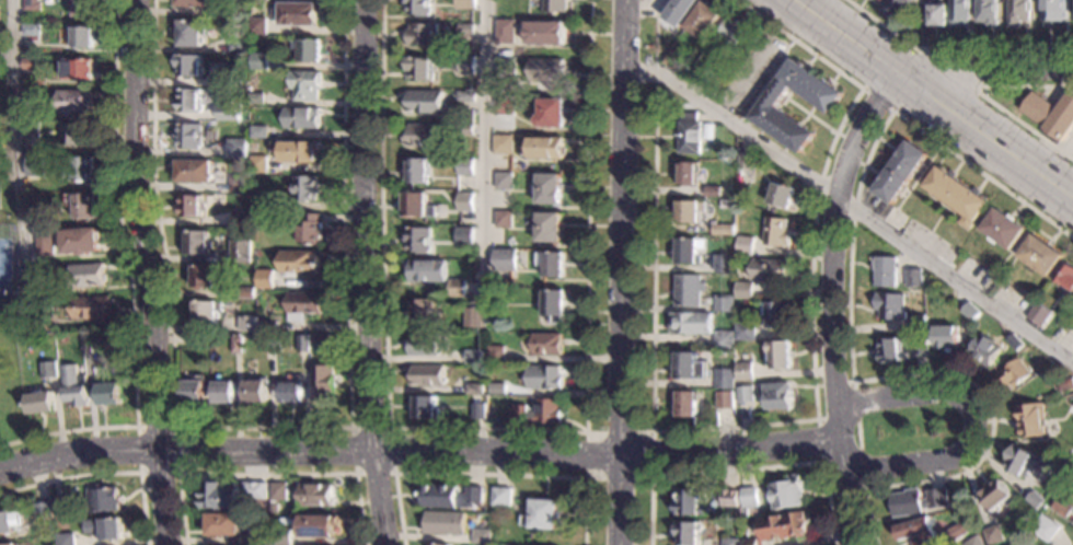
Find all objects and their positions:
building: (465, 0)
building: (880, 0)
building: (192, 3)
building: (31, 5)
building: (554, 5)
building: (82, 8)
building: (418, 8)
building: (896, 8)
building: (238, 9)
building: (679, 11)
building: (988, 12)
building: (1018, 12)
building: (1053, 12)
building: (960, 13)
building: (300, 14)
building: (938, 15)
building: (703, 20)
building: (258, 26)
building: (32, 30)
building: (466, 30)
building: (505, 32)
building: (189, 33)
building: (547, 33)
building: (731, 34)
building: (422, 35)
building: (80, 36)
building: (236, 46)
road: (951, 47)
building: (309, 50)
building: (673, 60)
building: (261, 61)
building: (30, 65)
building: (187, 66)
building: (464, 66)
road: (979, 67)
building: (78, 69)
building: (420, 70)
building: (506, 70)
building: (546, 71)
road: (743, 73)
building: (702, 74)
building: (233, 78)
road: (768, 81)
building: (307, 85)
building: (31, 95)
road: (934, 95)
road: (982, 95)
building: (465, 96)
building: (256, 100)
building: (187, 101)
building: (424, 101)
building: (74, 102)
road: (916, 104)
building: (769, 105)
building: (505, 107)
building: (228, 114)
building: (552, 114)
road: (808, 114)
road: (810, 115)
building: (1051, 116)
building: (301, 118)
building: (465, 129)
building: (30, 130)
building: (259, 132)
building: (689, 134)
building: (74, 135)
building: (188, 136)
building: (422, 136)
building: (501, 144)
building: (235, 148)
building: (544, 148)
road: (483, 150)
building: (297, 151)
road: (13, 154)
building: (745, 161)
building: (33, 165)
building: (258, 165)
building: (465, 167)
building: (78, 170)
building: (418, 171)
building: (194, 172)
building: (900, 172)
building: (688, 175)
building: (504, 182)
building: (236, 183)
building: (305, 188)
building: (550, 189)
building: (712, 190)
building: (781, 196)
building: (958, 196)
building: (266, 201)
building: (464, 202)
building: (81, 204)
building: (187, 206)
building: (418, 206)
road: (851, 206)
building: (689, 211)
building: (238, 218)
building: (253, 218)
building: (39, 220)
building: (503, 220)
building: (547, 228)
building: (310, 229)
building: (1004, 229)
building: (723, 230)
building: (464, 232)
building: (775, 232)
building: (418, 240)
building: (78, 242)
building: (511, 242)
building: (44, 243)
building: (197, 243)
building: (745, 246)
building: (687, 251)
building: (240, 252)
building: (1041, 256)
road: (829, 257)
building: (504, 260)
building: (298, 263)
building: (551, 265)
building: (724, 265)
park: (4, 267)
building: (770, 269)
building: (427, 270)
building: (885, 271)
building: (43, 272)
road: (146, 272)
road: (369, 272)
road: (622, 272)
building: (86, 274)
building: (1065, 275)
building: (203, 277)
building: (914, 278)
road: (130, 281)
building: (265, 282)
building: (455, 288)
building: (688, 290)
building: (743, 291)
building: (245, 293)
park: (9, 302)
building: (723, 303)
building: (302, 305)
building: (554, 305)
building: (889, 306)
building: (91, 308)
building: (422, 310)
building: (205, 312)
building: (970, 312)
building: (474, 314)
building: (1039, 314)
building: (491, 315)
building: (773, 315)
building: (690, 323)
building: (918, 324)
building: (44, 325)
road: (847, 326)
building: (249, 327)
building: (268, 327)
building: (745, 332)
building: (945, 338)
building: (195, 339)
building: (321, 339)
building: (723, 341)
building: (102, 343)
building: (1015, 343)
building: (235, 344)
building: (302, 344)
building: (546, 344)
building: (85, 345)
building: (424, 345)
building: (269, 346)
building: (918, 346)
building: (889, 349)
building: (984, 350)
building: (496, 355)
building: (777, 356)
building: (474, 357)
building: (689, 368)
building: (47, 370)
building: (743, 372)
building: (1014, 374)
building: (427, 376)
building: (543, 378)
building: (723, 379)
building: (322, 383)
building: (1065, 384)
building: (73, 386)
building: (498, 389)
building: (474, 390)
building: (193, 391)
building: (108, 392)
building: (223, 392)
building: (255, 392)
building: (290, 392)
building: (743, 394)
building: (777, 396)
building: (723, 401)
building: (39, 402)
building: (684, 404)
building: (423, 407)
building: (477, 411)
building: (539, 413)
building: (1031, 420)
road: (973, 421)
road: (764, 424)
road: (262, 428)
road: (488, 429)
road: (856, 434)
road: (818, 440)
road: (419, 452)
building: (1017, 460)
road: (742, 468)
road: (137, 471)
road: (104, 473)
road: (265, 473)
road: (392, 473)
road: (486, 475)
road: (649, 475)
building: (253, 490)
building: (277, 491)
road: (850, 492)
building: (785, 494)
building: (993, 495)
building: (220, 496)
building: (315, 496)
building: (449, 497)
building: (500, 497)
building: (748, 498)
building: (101, 499)
building: (728, 499)
building: (1034, 500)
building: (912, 502)
building: (689, 503)
building: (59, 508)
building: (1061, 509)
building: (42, 511)
building: (542, 515)
building: (9, 522)
building: (443, 523)
building: (222, 525)
building: (318, 526)
building: (782, 527)
building: (104, 529)
building: (1045, 529)
building: (914, 531)
building: (687, 533)
building: (953, 534)
building: (992, 535)
building: (261, 537)
building: (282, 537)
building: (481, 537)
building: (64, 538)
building: (729, 542)
building: (749, 542)
building: (971, 542)
building: (1020, 543)
building: (12, 544)
building: (18, 544)
building: (437, 544)

